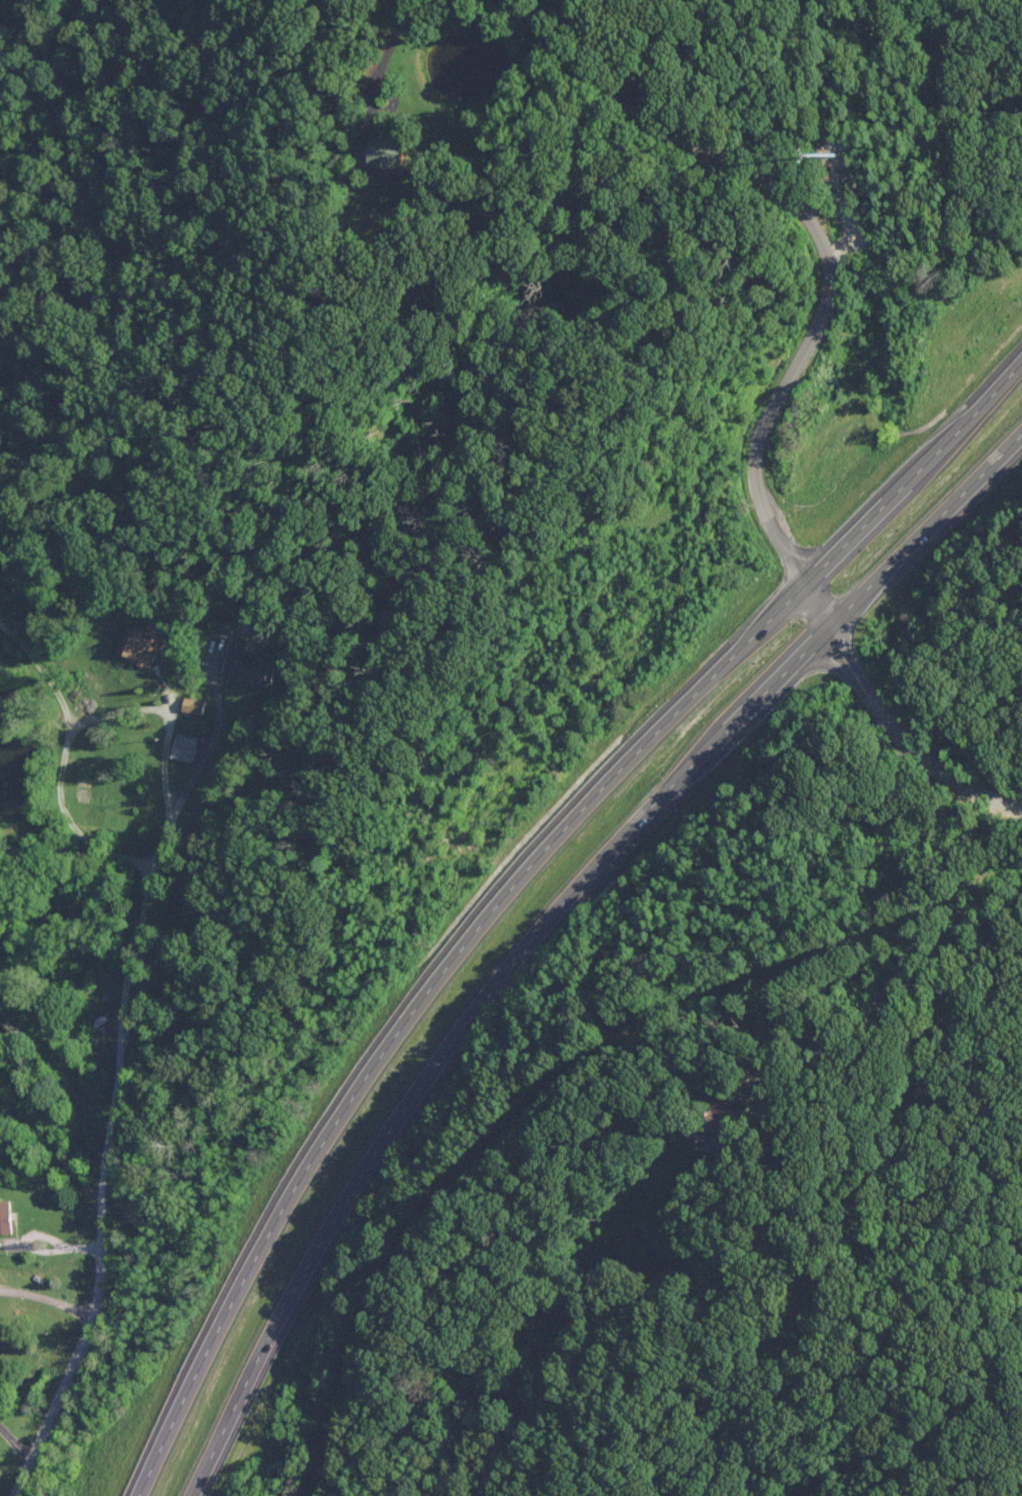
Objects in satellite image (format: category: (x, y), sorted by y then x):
road: (394, 35)
road: (380, 111)
building: (394, 151)
road: (782, 383)
road: (3, 635)
building: (137, 644)
building: (248, 663)
building: (193, 705)
road: (209, 731)
road: (168, 733)
building: (185, 746)
road: (54, 813)
road: (509, 876)
road: (542, 918)
road: (854, 1013)
road: (907, 1027)
road: (113, 1030)
building: (718, 1112)
road: (40, 1123)
building: (6, 1216)
road: (45, 1302)

